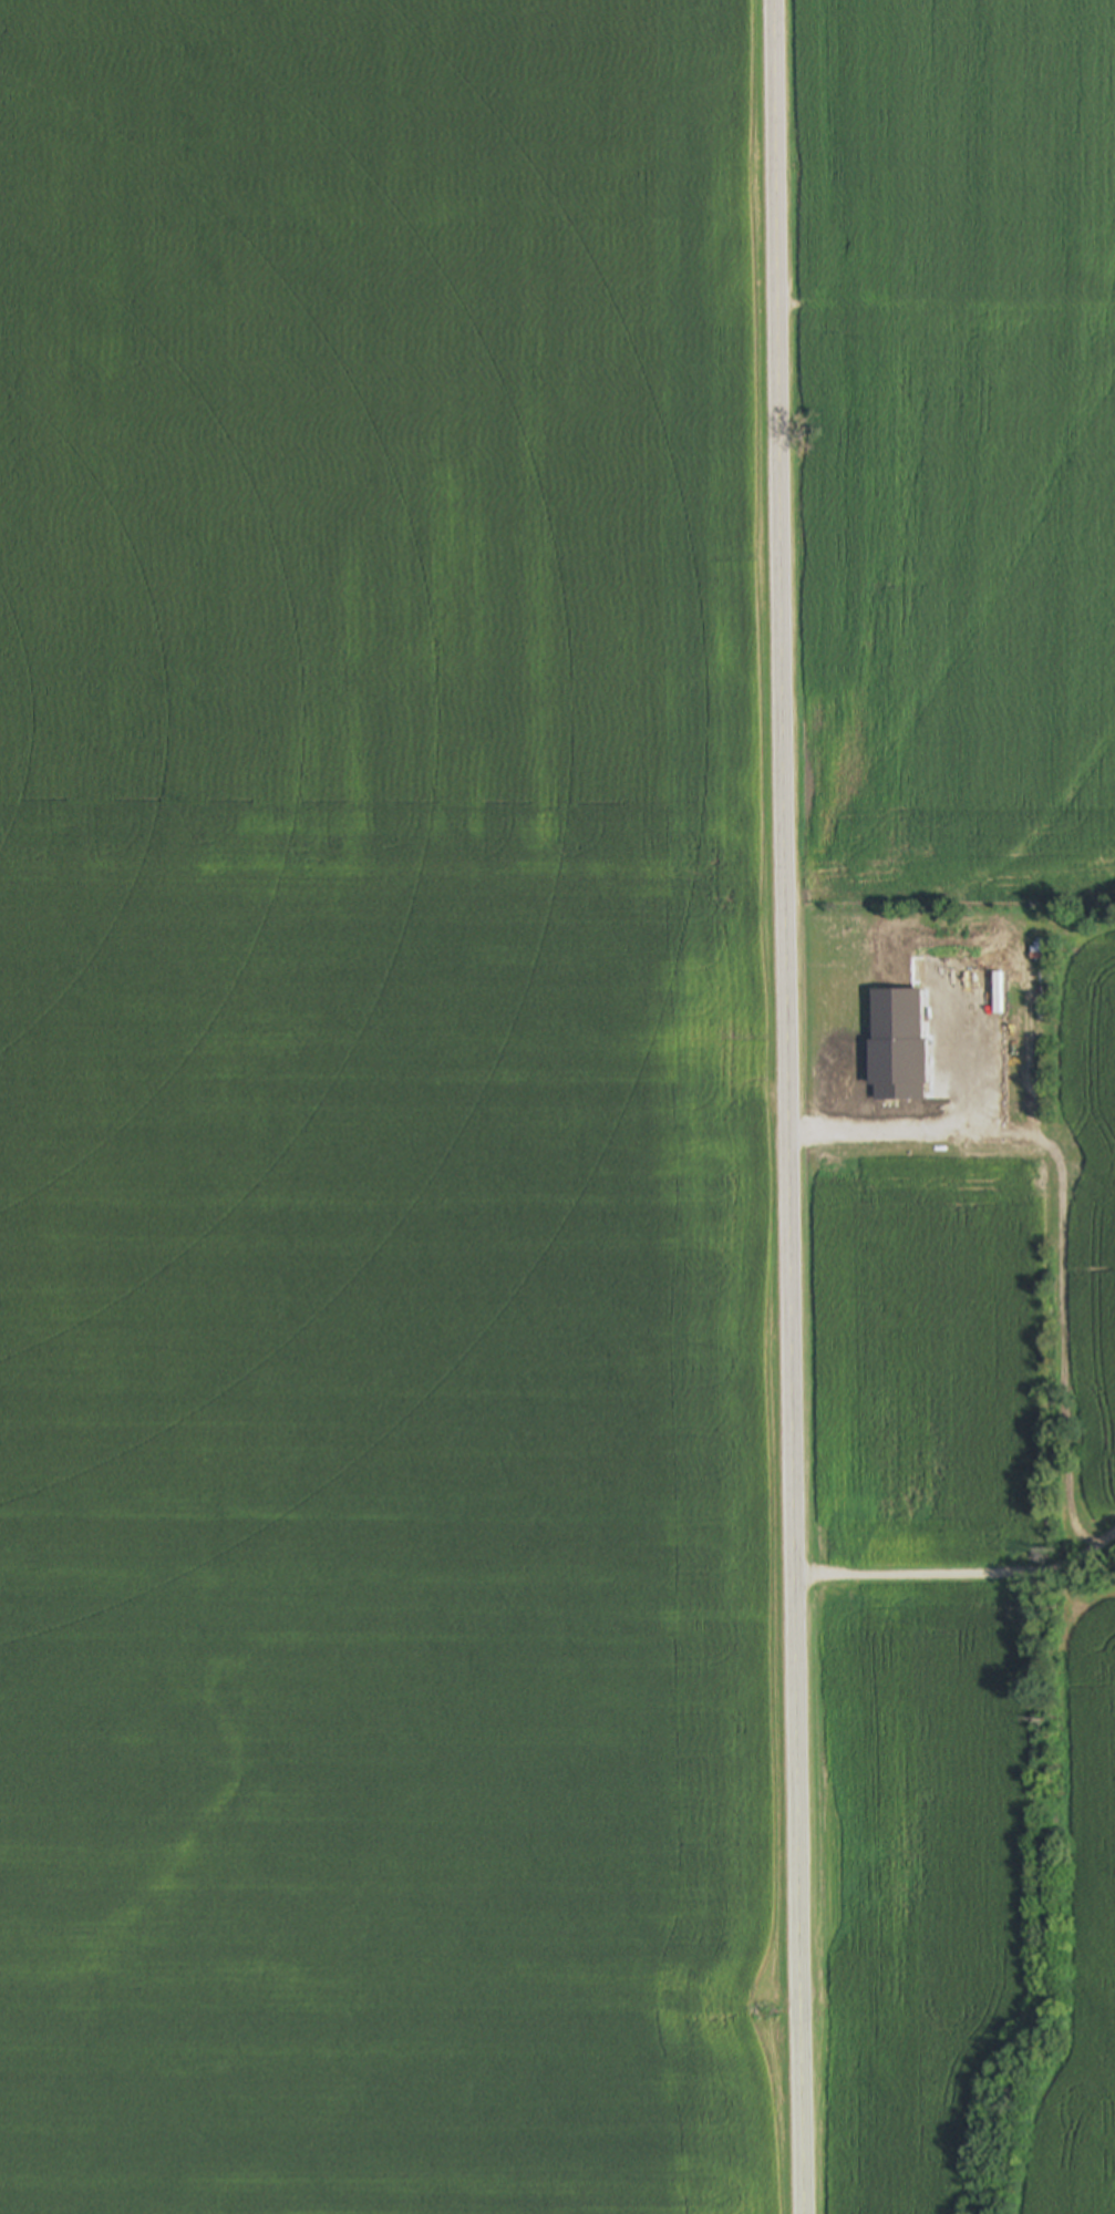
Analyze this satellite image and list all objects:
road: (792, 1106)
road: (962, 1573)

